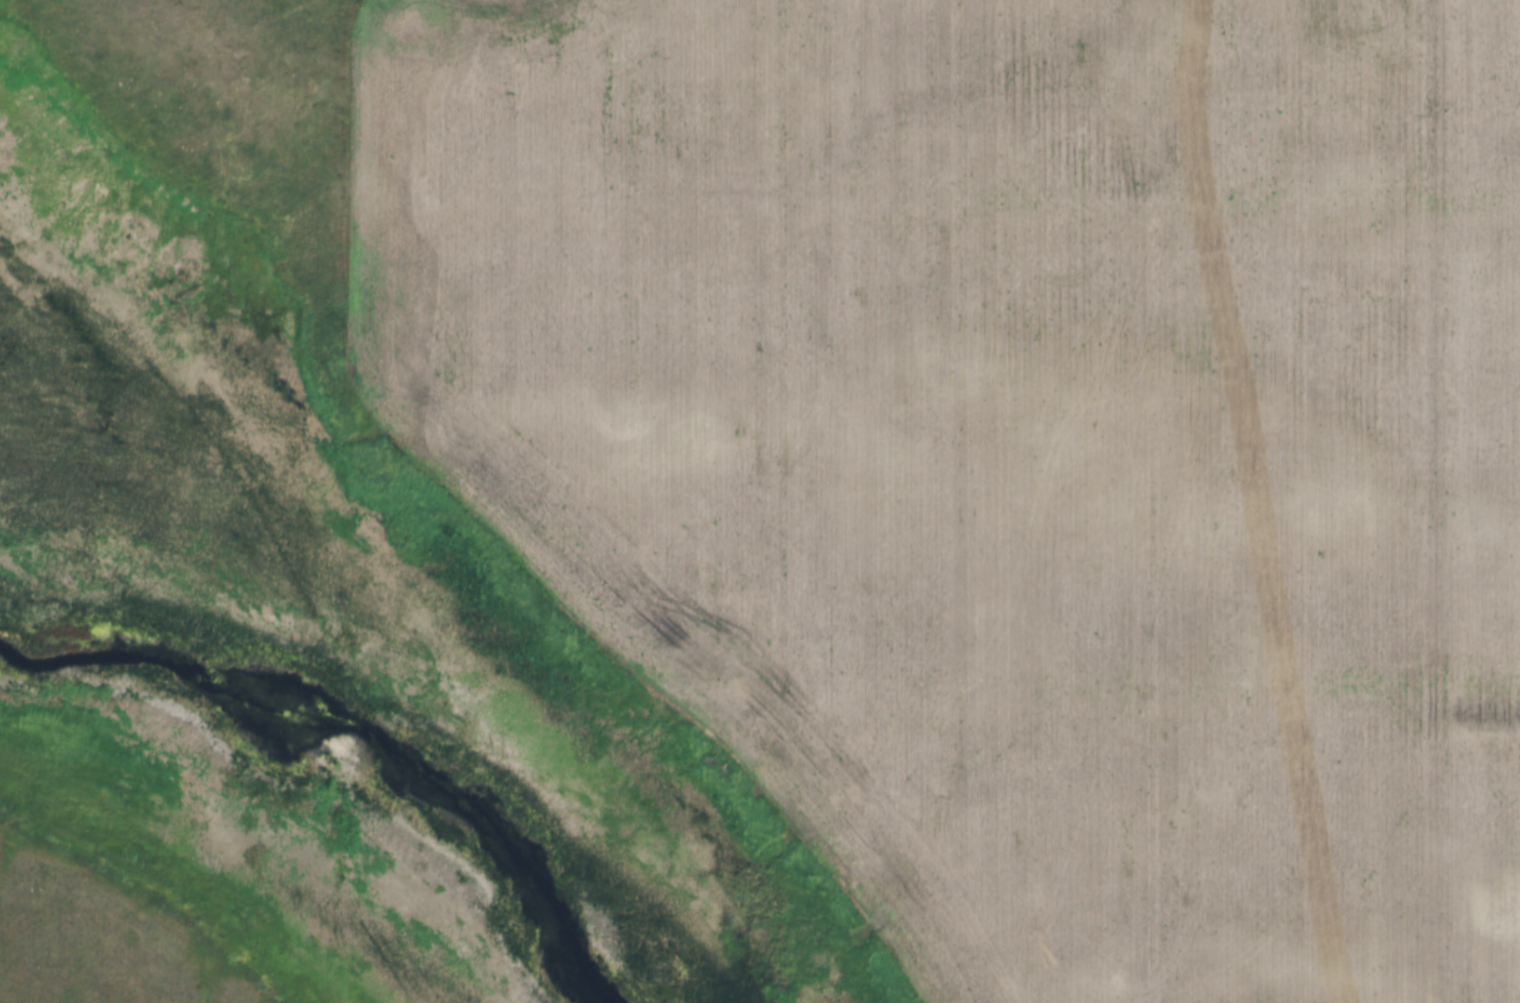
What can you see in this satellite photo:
river: (371, 737)

